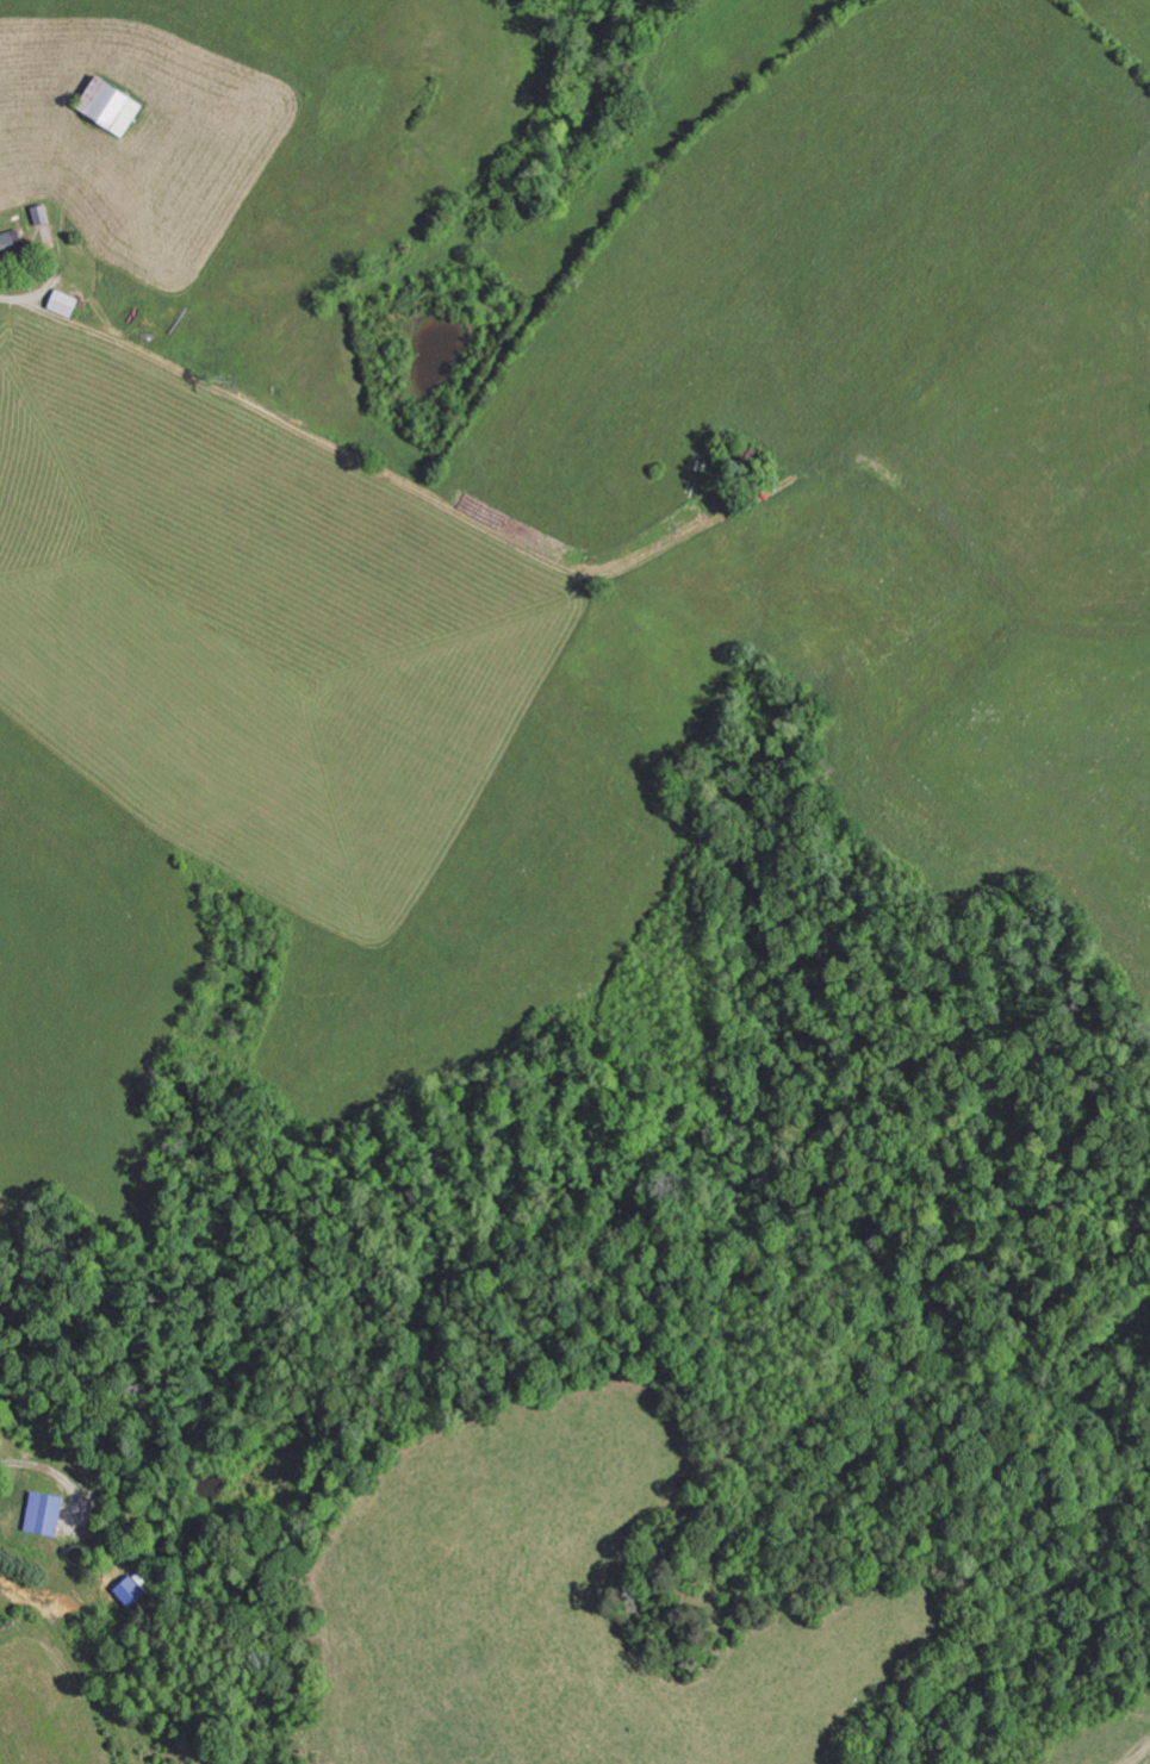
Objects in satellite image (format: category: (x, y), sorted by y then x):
building: (106, 105)
building: (10, 242)
building: (60, 303)
road: (603, 547)
building: (42, 1515)
building: (129, 1591)

